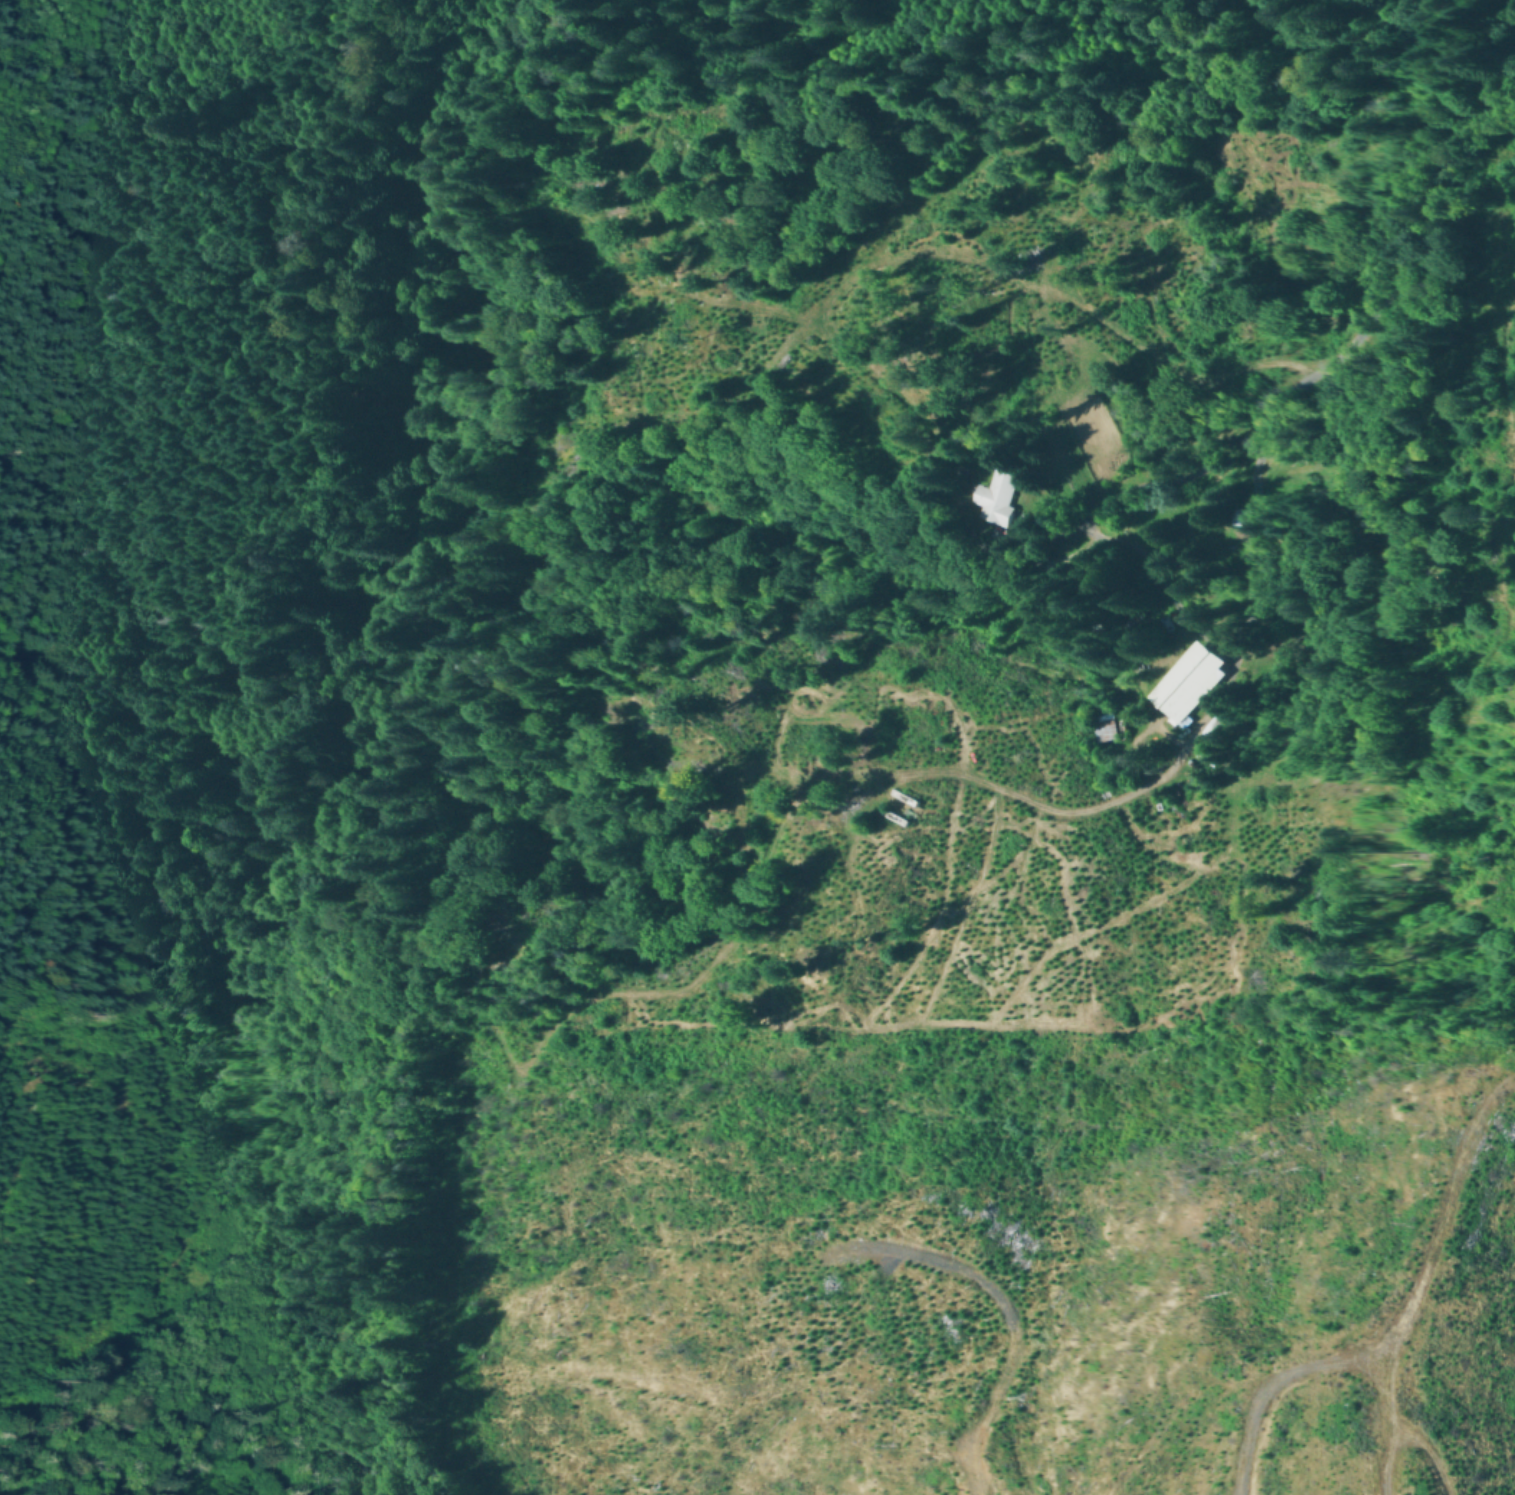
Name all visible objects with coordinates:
building: (1075, 413)
building: (1000, 499)
building: (1188, 683)
road: (1447, 1217)
road: (1012, 1324)
road: (1329, 1362)

